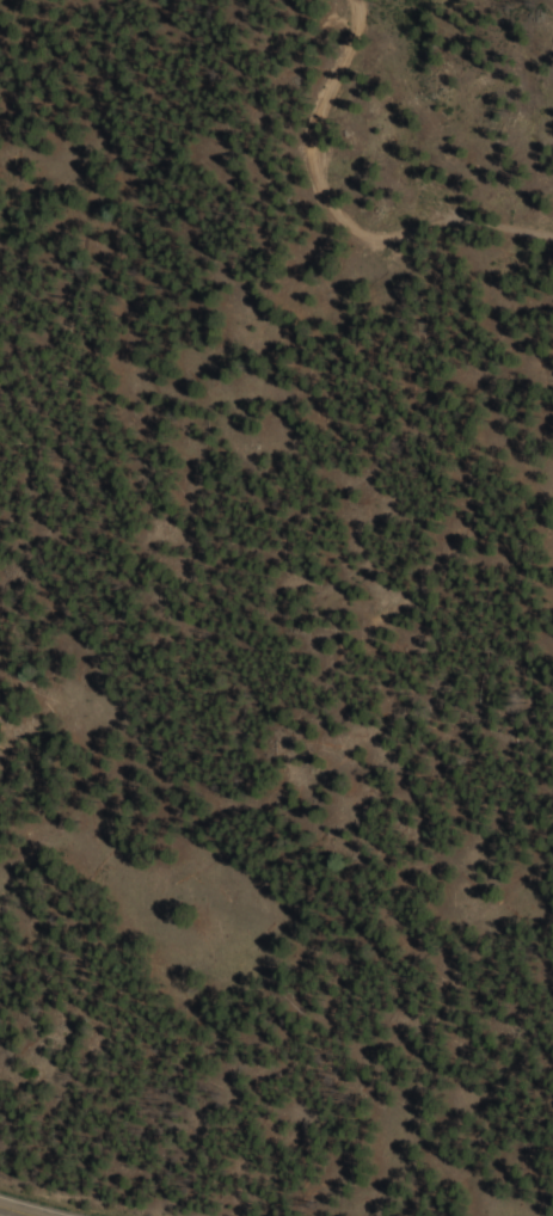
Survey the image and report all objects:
road: (367, 180)
road: (18, 1210)

